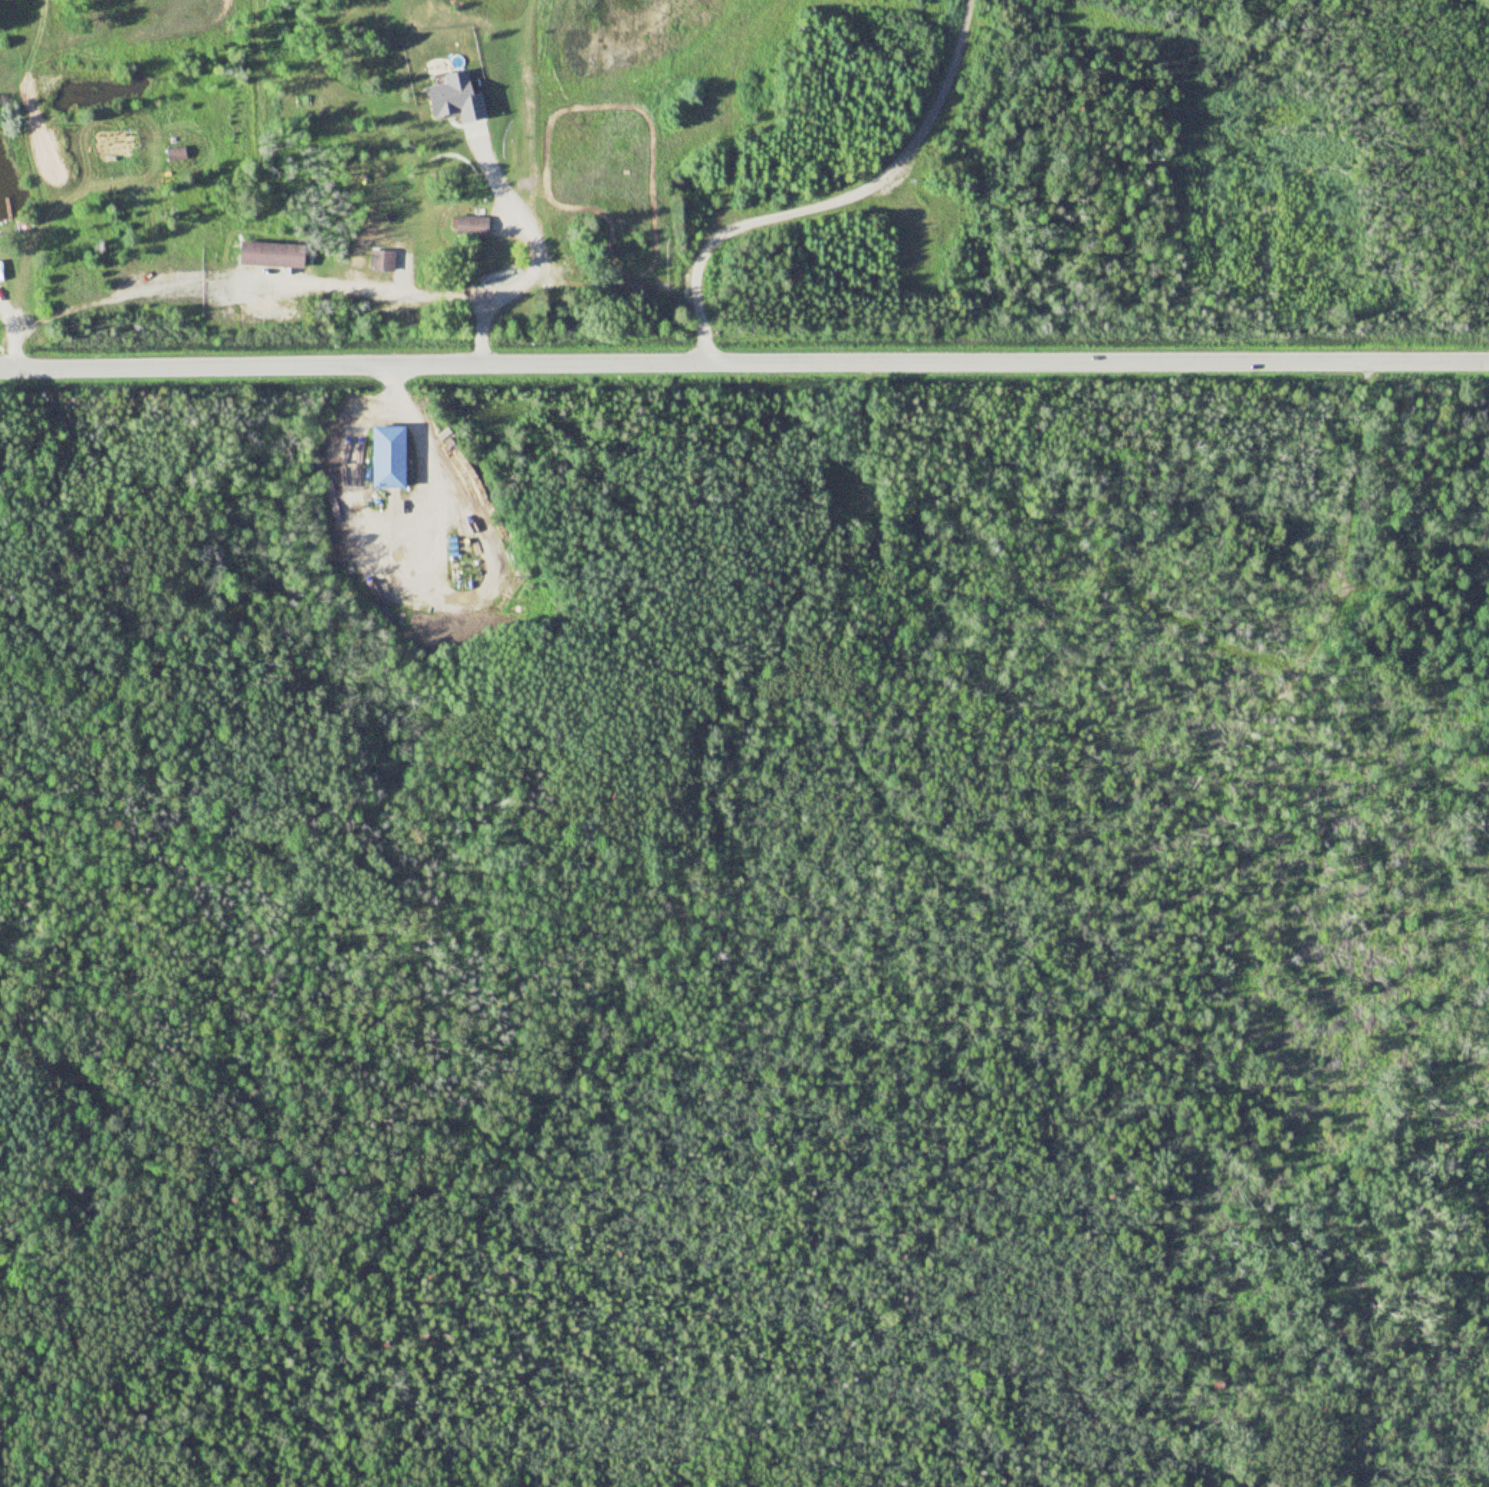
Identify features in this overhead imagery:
road: (833, 200)
building: (472, 227)
building: (274, 255)
building: (381, 261)
road: (331, 285)
road: (9, 310)
road: (744, 362)
building: (391, 458)

